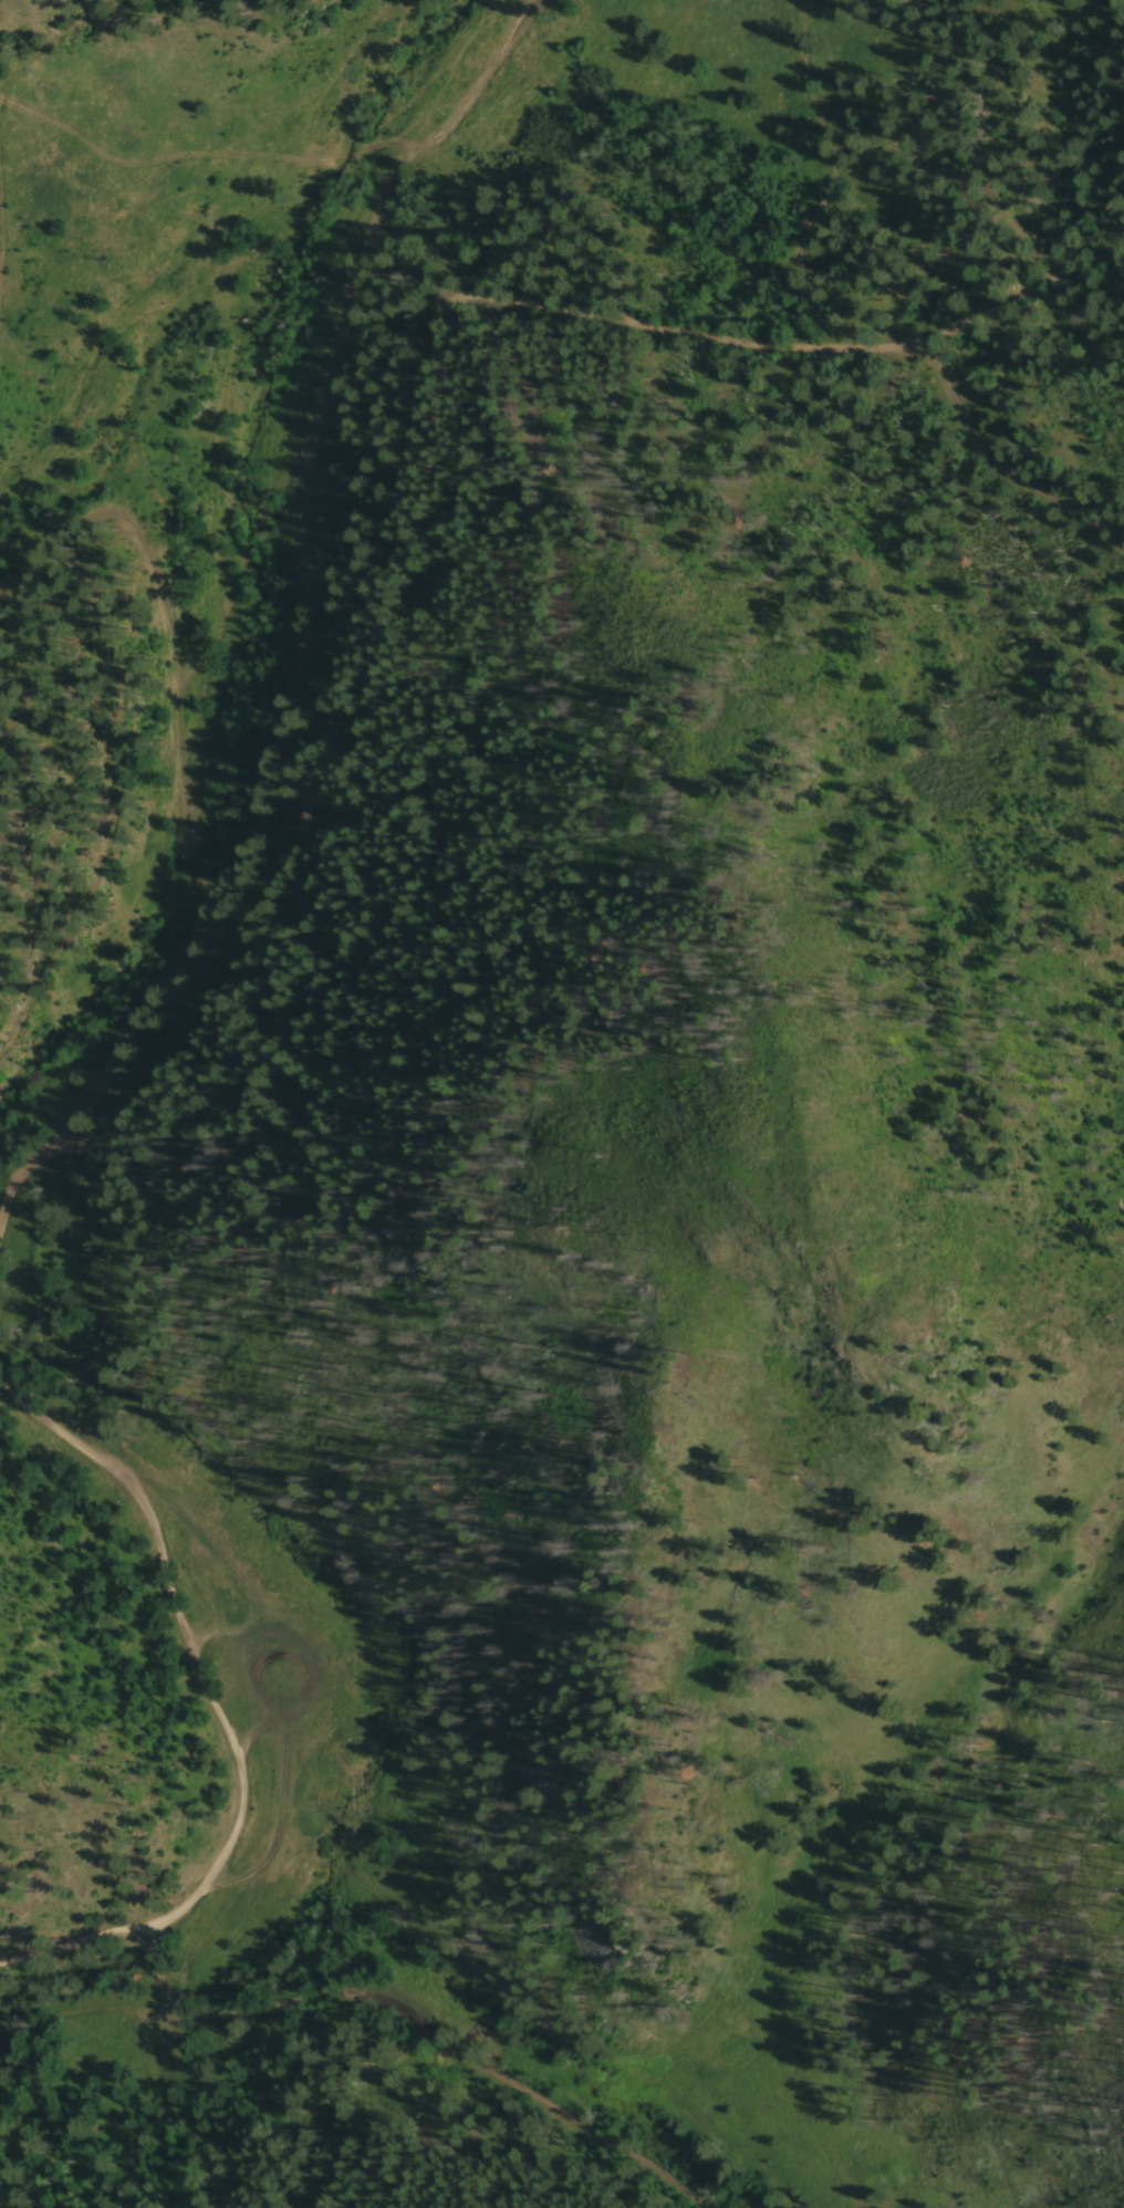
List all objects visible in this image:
road: (56, 35)
road: (1, 233)
road: (431, 398)
road: (301, 571)
road: (171, 643)
road: (111, 792)
road: (28, 1169)
road: (221, 1720)

